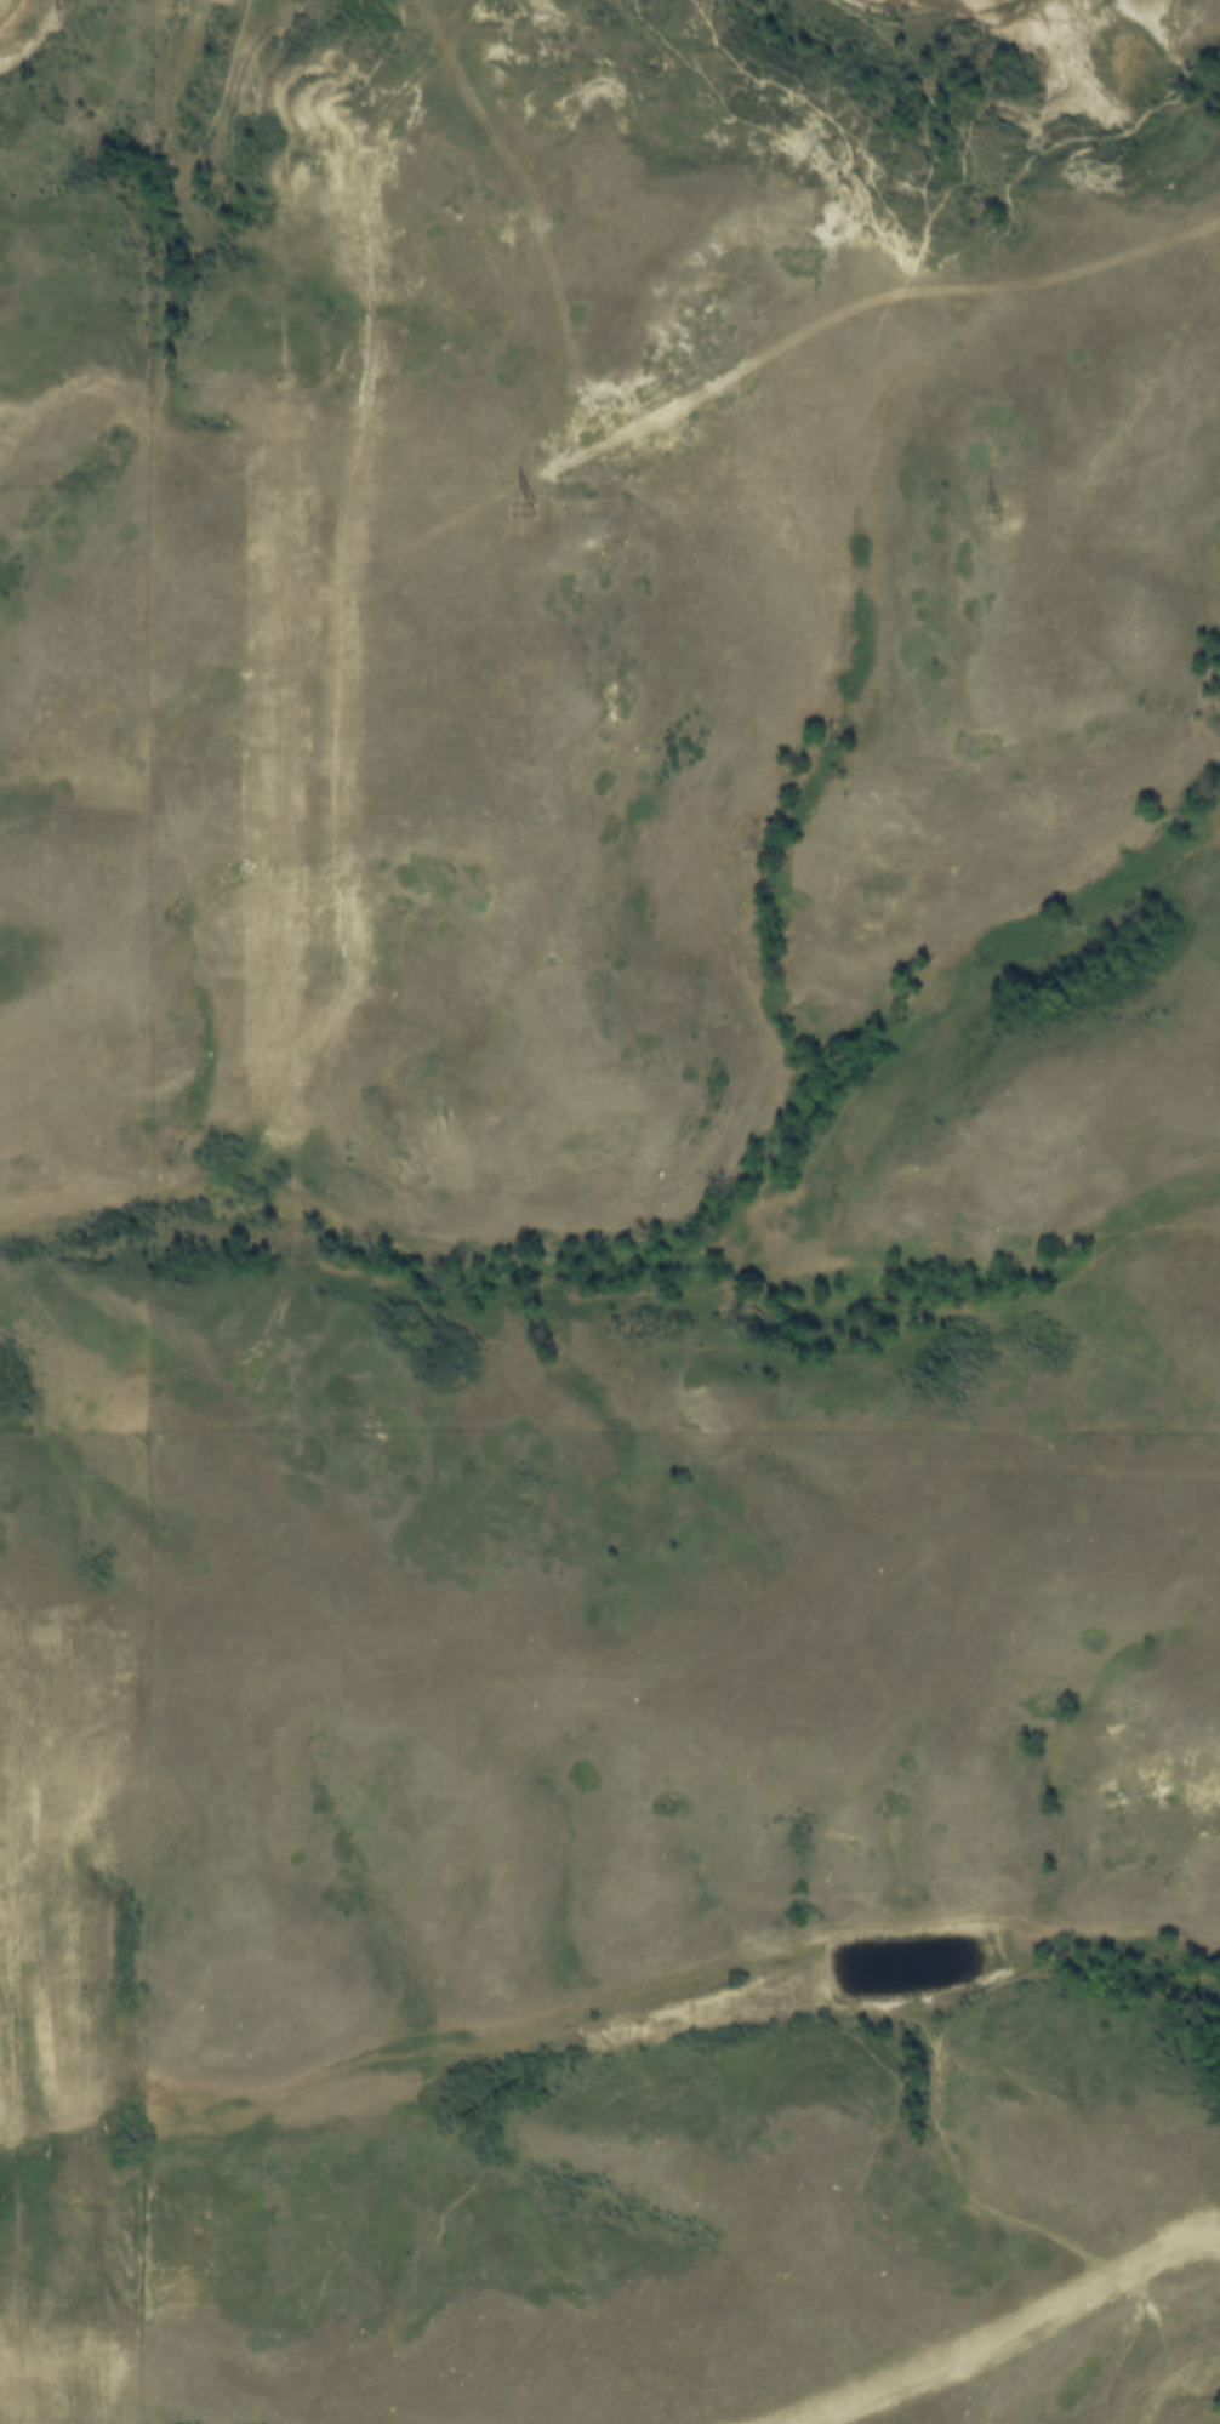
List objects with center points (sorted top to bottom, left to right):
power tower: (538, 508)
power tower: (1011, 515)

